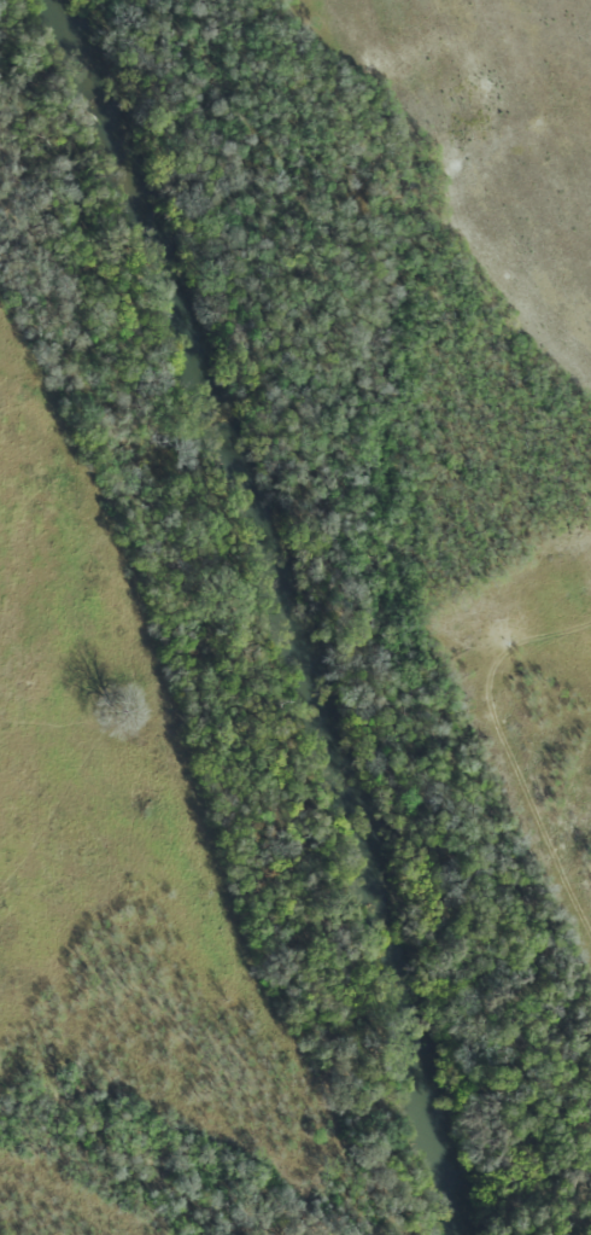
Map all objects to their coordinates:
river: (286, 610)

